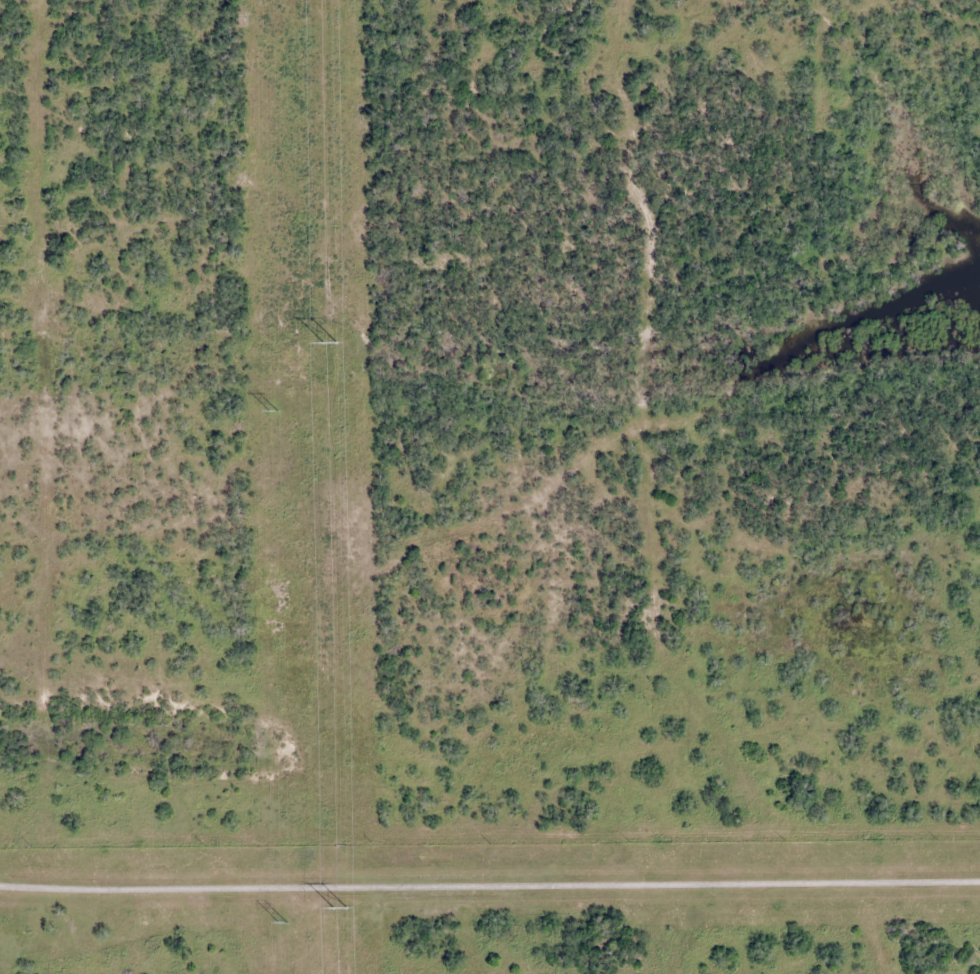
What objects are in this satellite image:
power tower: (328, 343)
power tower: (272, 412)
road: (490, 881)
power tower: (339, 908)
power tower: (281, 922)

